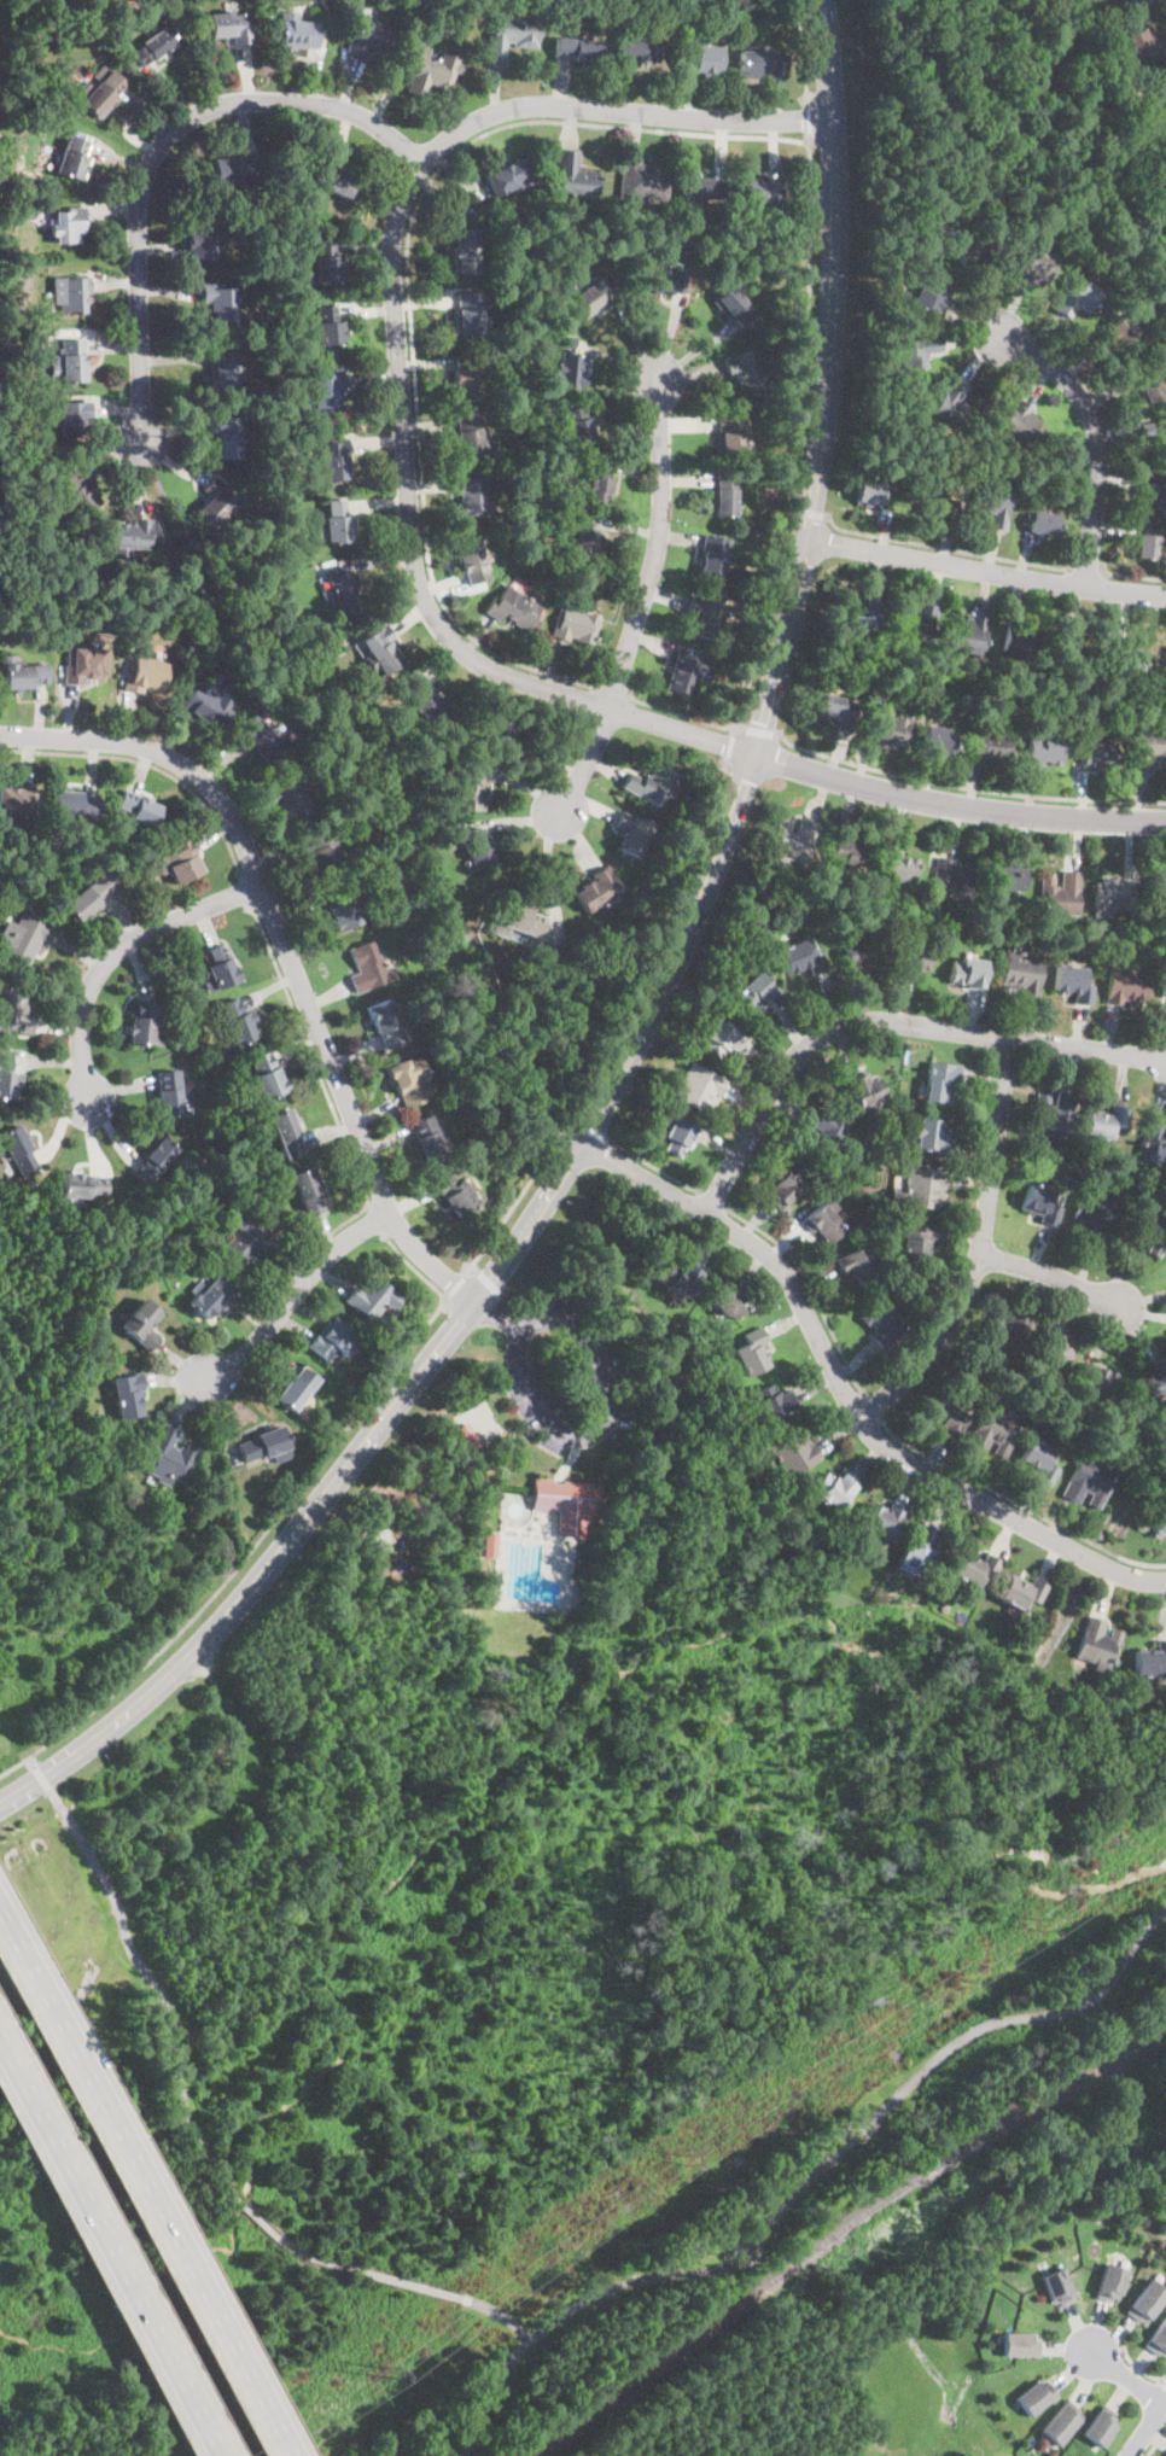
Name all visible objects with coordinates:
building: (1136, 1)
building: (447, 21)
building: (232, 27)
building: (298, 31)
building: (511, 36)
building: (367, 37)
building: (155, 45)
building: (1145, 45)
building: (577, 49)
building: (640, 49)
road: (804, 53)
building: (699, 59)
building: (760, 64)
building: (432, 72)
building: (99, 92)
building: (1161, 93)
road: (811, 119)
park: (1005, 144)
road: (156, 148)
building: (72, 158)
building: (234, 170)
building: (333, 175)
building: (575, 175)
building: (511, 177)
building: (642, 181)
building: (702, 189)
building: (763, 192)
building: (18, 193)
building: (68, 223)
building: (198, 239)
building: (466, 251)
building: (975, 257)
building: (326, 261)
building: (1033, 267)
road: (409, 282)
building: (670, 282)
building: (70, 293)
building: (931, 297)
building: (1077, 297)
building: (589, 299)
building: (220, 301)
building: (734, 304)
building: (472, 314)
building: (330, 326)
building: (13, 336)
building: (1115, 337)
building: (565, 340)
building: (916, 351)
building: (71, 362)
building: (225, 369)
building: (572, 371)
building: (748, 371)
building: (468, 372)
building: (1150, 389)
building: (320, 392)
building: (0, 401)
building: (948, 403)
building: (914, 409)
building: (30, 416)
building: (74, 418)
building: (1020, 421)
building: (579, 428)
building: (1154, 433)
building: (471, 436)
building: (227, 437)
building: (731, 437)
road: (1096, 437)
building: (334, 459)
building: (1031, 483)
building: (599, 489)
building: (77, 491)
road: (789, 491)
building: (869, 492)
building: (1154, 492)
building: (472, 496)
building: (725, 497)
building: (216, 502)
building: (938, 503)
building: (993, 506)
road: (791, 508)
road: (809, 512)
building: (1043, 524)
building: (334, 525)
building: (129, 536)
building: (584, 543)
building: (1144, 547)
road: (943, 549)
building: (712, 556)
road: (413, 561)
building: (470, 562)
road: (985, 570)
road: (1086, 571)
road: (1135, 577)
building: (343, 590)
road: (637, 606)
building: (513, 608)
building: (858, 613)
building: (705, 619)
building: (917, 623)
building: (573, 626)
building: (966, 634)
building: (1021, 640)
building: (381, 648)
building: (1072, 655)
building: (1124, 659)
building: (84, 661)
building: (145, 670)
building: (22, 673)
building: (686, 673)
road: (613, 694)
building: (208, 702)
building: (425, 702)
building: (833, 712)
building: (494, 727)
building: (886, 730)
road: (757, 731)
building: (257, 734)
building: (937, 740)
road: (730, 745)
building: (990, 746)
building: (1148, 748)
building: (1044, 752)
building: (1097, 756)
road: (148, 765)
road: (375, 769)
building: (649, 783)
road: (967, 788)
building: (470, 789)
building: (288, 797)
building: (17, 798)
building: (74, 804)
building: (136, 806)
building: (630, 835)
building: (792, 839)
building: (477, 846)
building: (846, 848)
building: (320, 850)
building: (179, 862)
building: (897, 868)
building: (1008, 874)
road: (553, 879)
building: (950, 881)
building: (597, 887)
building: (1160, 887)
road: (243, 892)
building: (87, 893)
building: (1060, 893)
building: (1112, 894)
building: (340, 909)
building: (518, 917)
building: (24, 937)
road: (659, 944)
road: (116, 951)
road: (286, 951)
building: (863, 952)
building: (800, 955)
building: (911, 961)
building: (368, 964)
building: (216, 966)
building: (968, 970)
building: (1019, 970)
building: (1071, 981)
building: (1125, 981)
building: (1164, 984)
building: (757, 988)
building: (13, 1008)
road: (649, 1009)
building: (144, 1021)
building: (239, 1021)
building: (384, 1022)
road: (884, 1022)
building: (722, 1037)
building: (266, 1072)
building: (8, 1075)
building: (408, 1079)
road: (322, 1080)
building: (939, 1081)
building: (698, 1086)
building: (863, 1089)
building: (169, 1091)
building: (1051, 1113)
building: (1098, 1124)
building: (822, 1128)
road: (593, 1131)
building: (286, 1132)
building: (680, 1134)
building: (425, 1136)
building: (928, 1136)
building: (1153, 1144)
building: (19, 1150)
building: (155, 1160)
road: (653, 1166)
building: (83, 1184)
building: (779, 1185)
building: (919, 1189)
building: (308, 1190)
building: (456, 1191)
road: (519, 1197)
road: (713, 1201)
building: (1038, 1202)
building: (832, 1206)
building: (1094, 1213)
road: (373, 1220)
building: (821, 1223)
building: (1143, 1230)
building: (245, 1239)
building: (914, 1242)
road: (976, 1249)
building: (855, 1264)
road: (414, 1268)
building: (683, 1274)
road: (1048, 1274)
road: (486, 1280)
road: (457, 1284)
road: (810, 1289)
road: (293, 1293)
building: (209, 1296)
building: (372, 1297)
building: (729, 1297)
building: (879, 1322)
building: (141, 1326)
building: (1003, 1336)
building: (332, 1337)
building: (752, 1350)
building: (1049, 1350)
building: (1150, 1381)
building: (1096, 1383)
building: (296, 1385)
road: (845, 1394)
building: (128, 1396)
building: (773, 1401)
road: (870, 1406)
building: (941, 1414)
road: (591, 1429)
building: (992, 1431)
building: (467, 1435)
building: (263, 1446)
building: (794, 1449)
building: (168, 1457)
building: (1037, 1460)
building: (1085, 1482)
building: (838, 1486)
road: (1120, 1500)
building: (567, 1501)
road: (1018, 1504)
building: (881, 1519)
building: (1156, 1523)
building: (380, 1535)
building: (921, 1544)
road: (246, 1557)
building: (973, 1569)
building: (1019, 1591)
building: (1095, 1643)
building: (1149, 1659)
road: (31, 1762)
road: (41, 1778)
power tower: (1071, 1902)
road: (138, 1958)
power tower: (681, 2158)
road: (146, 2178)
road: (805, 2182)
railway: (841, 2228)
road: (109, 2251)
road: (309, 2252)
building: (1112, 2286)
building: (1056, 2289)
road: (896, 2297)
building: (1149, 2306)
road: (500, 2314)
building: (1158, 2345)
building: (1018, 2351)
power tower: (380, 2372)
road: (1126, 2379)
building: (1032, 2400)
building: (1060, 2426)
road: (1144, 2427)
building: (1100, 2429)
road: (1156, 2443)

